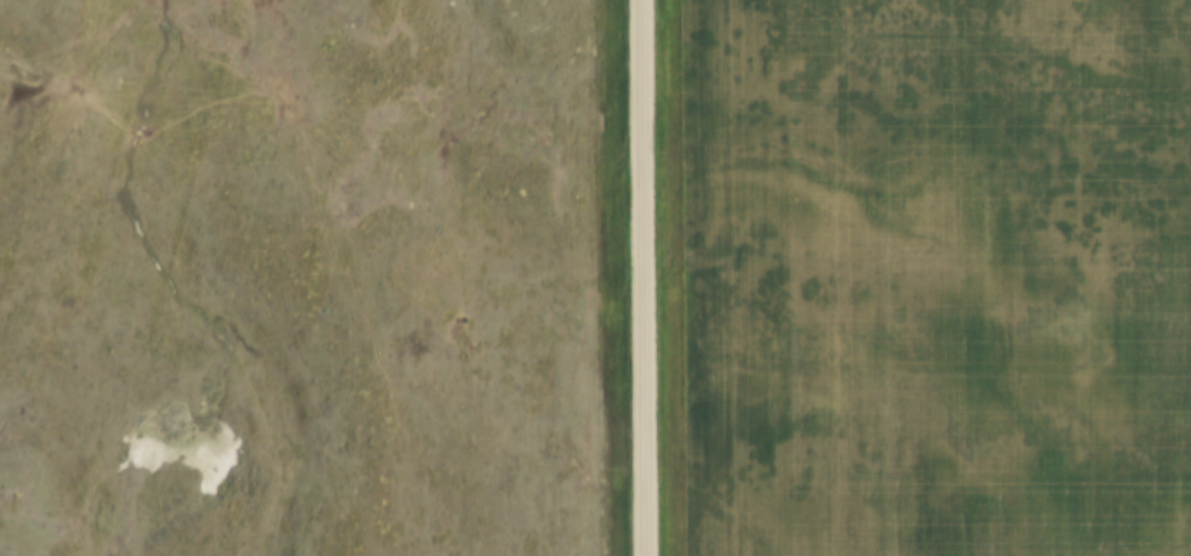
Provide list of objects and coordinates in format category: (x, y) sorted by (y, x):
road: (637, 278)

